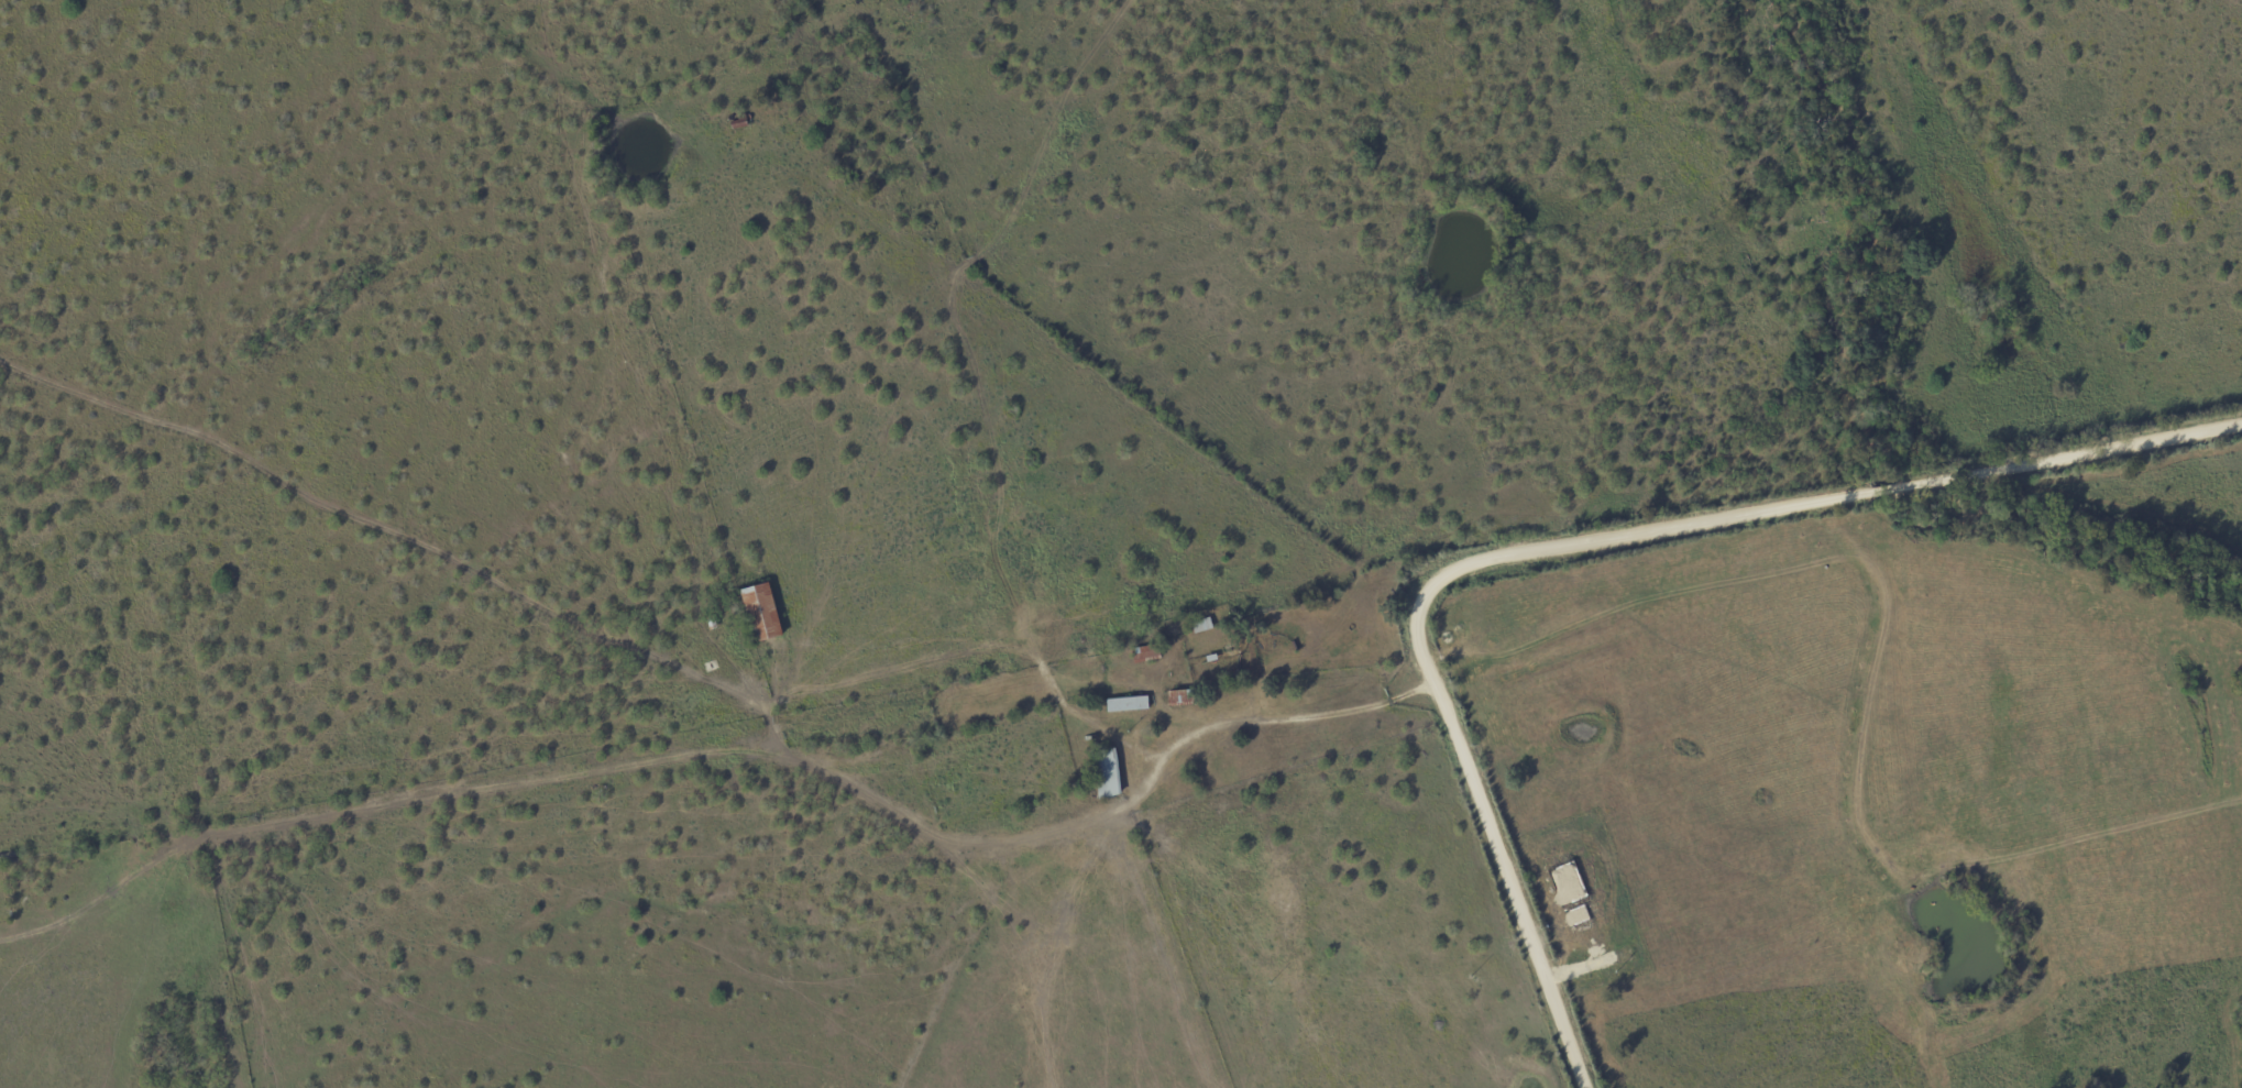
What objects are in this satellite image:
road: (1574, 550)
building: (1182, 699)
building: (1129, 704)
road: (1294, 715)
building: (1108, 773)

